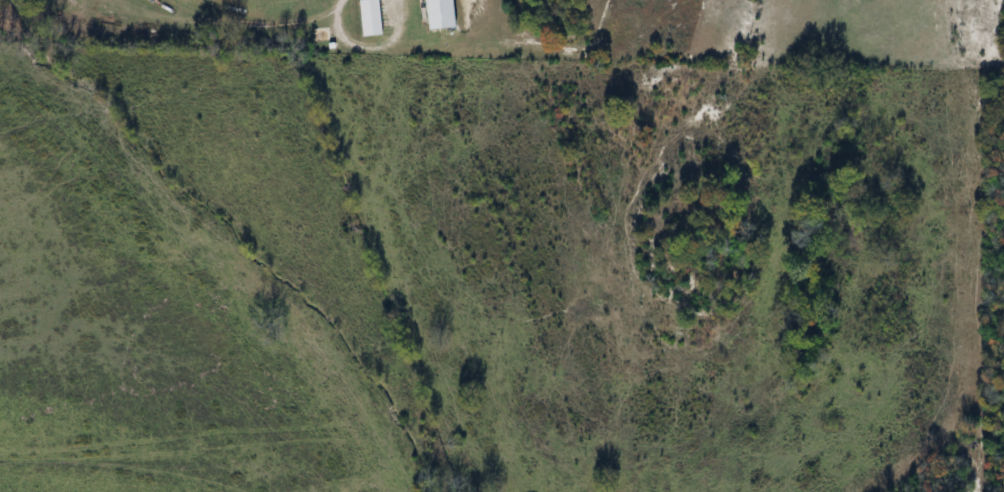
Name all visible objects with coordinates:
road: (394, 7)
building: (444, 14)
building: (374, 18)

